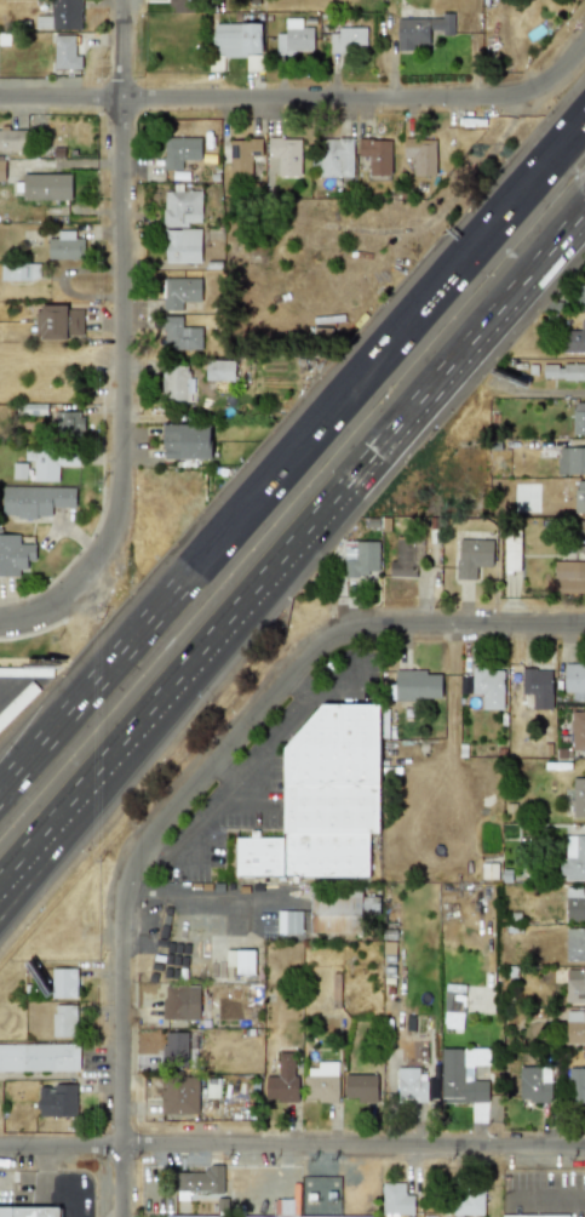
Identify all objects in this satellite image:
building: (182, 6)
building: (62, 16)
building: (421, 29)
building: (294, 40)
building: (349, 40)
building: (236, 42)
building: (68, 51)
road: (306, 95)
building: (11, 139)
building: (180, 150)
building: (242, 155)
building: (374, 155)
building: (420, 155)
building: (286, 156)
building: (337, 158)
building: (2, 170)
building: (46, 187)
building: (180, 206)
building: (65, 245)
building: (180, 245)
building: (15, 272)
building: (179, 292)
building: (580, 295)
road: (116, 299)
building: (61, 322)
building: (180, 335)
building: (573, 339)
building: (220, 370)
building: (563, 371)
building: (174, 384)
building: (579, 418)
building: (70, 423)
road: (314, 439)
building: (187, 441)
building: (570, 459)
building: (51, 461)
building: (579, 496)
building: (35, 501)
road: (329, 510)
building: (579, 536)
building: (511, 553)
building: (15, 554)
building: (405, 556)
building: (471, 556)
building: (360, 559)
building: (568, 576)
road: (39, 606)
road: (408, 624)
building: (574, 680)
road: (42, 682)
building: (415, 684)
building: (487, 686)
building: (535, 686)
road: (13, 692)
road: (303, 695)
building: (578, 730)
road: (265, 764)
road: (18, 767)
road: (18, 771)
road: (233, 777)
building: (578, 798)
building: (326, 800)
road: (266, 807)
road: (36, 846)
building: (573, 859)
road: (38, 863)
road: (178, 863)
road: (196, 893)
building: (574, 903)
building: (335, 910)
building: (288, 921)
road: (124, 937)
building: (574, 943)
building: (240, 961)
building: (63, 982)
building: (574, 985)
building: (179, 1002)
building: (453, 1006)
building: (63, 1021)
building: (574, 1027)
building: (173, 1047)
building: (39, 1057)
building: (461, 1074)
building: (281, 1080)
building: (321, 1081)
building: (534, 1084)
building: (409, 1085)
building: (577, 1085)
building: (360, 1086)
building: (431, 1087)
building: (178, 1095)
building: (57, 1099)
road: (292, 1147)
building: (200, 1179)
road: (45, 1194)
building: (395, 1199)
building: (466, 1201)
building: (29, 1211)
building: (234, 1216)
building: (534, 1216)

